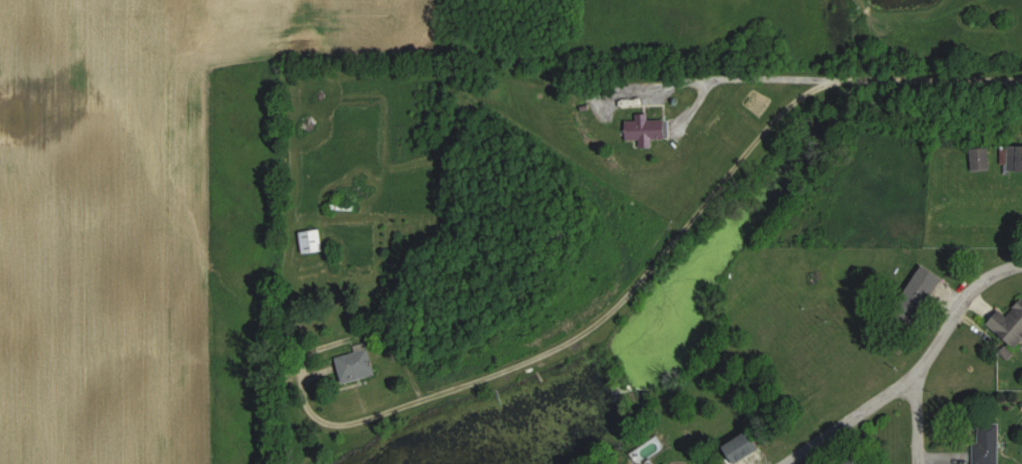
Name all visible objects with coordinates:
road: (742, 71)
building: (647, 130)
building: (1012, 158)
building: (982, 159)
road: (708, 194)
building: (313, 242)
building: (925, 286)
road: (961, 305)
building: (1010, 325)
building: (358, 364)
road: (853, 418)
road: (918, 418)
building: (988, 444)
building: (745, 448)

